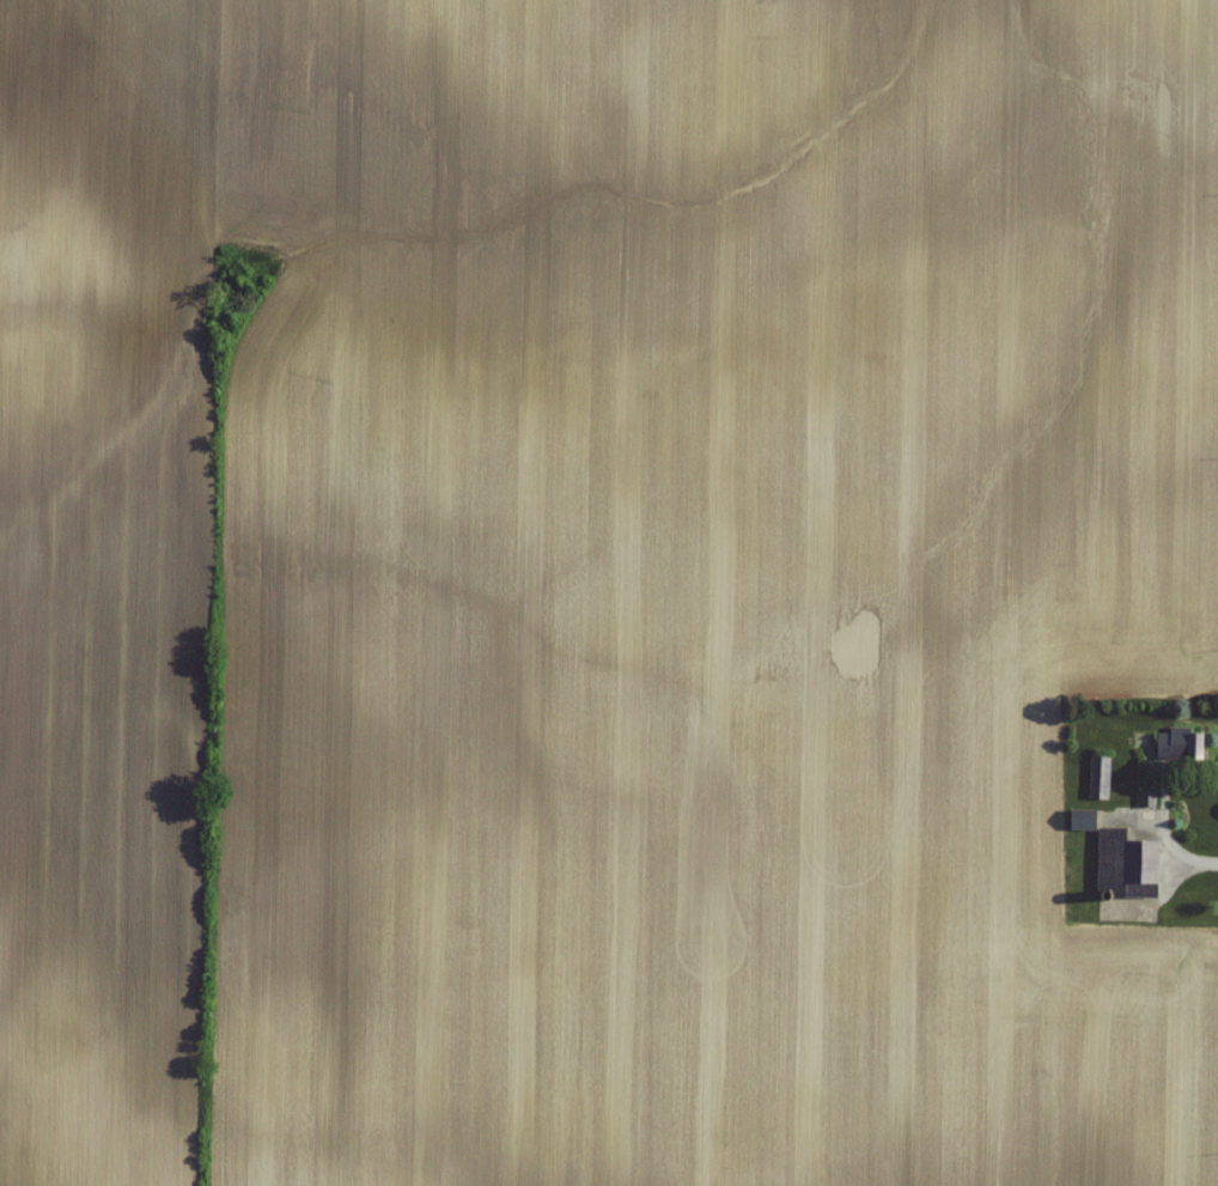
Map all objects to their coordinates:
road: (1163, 813)

